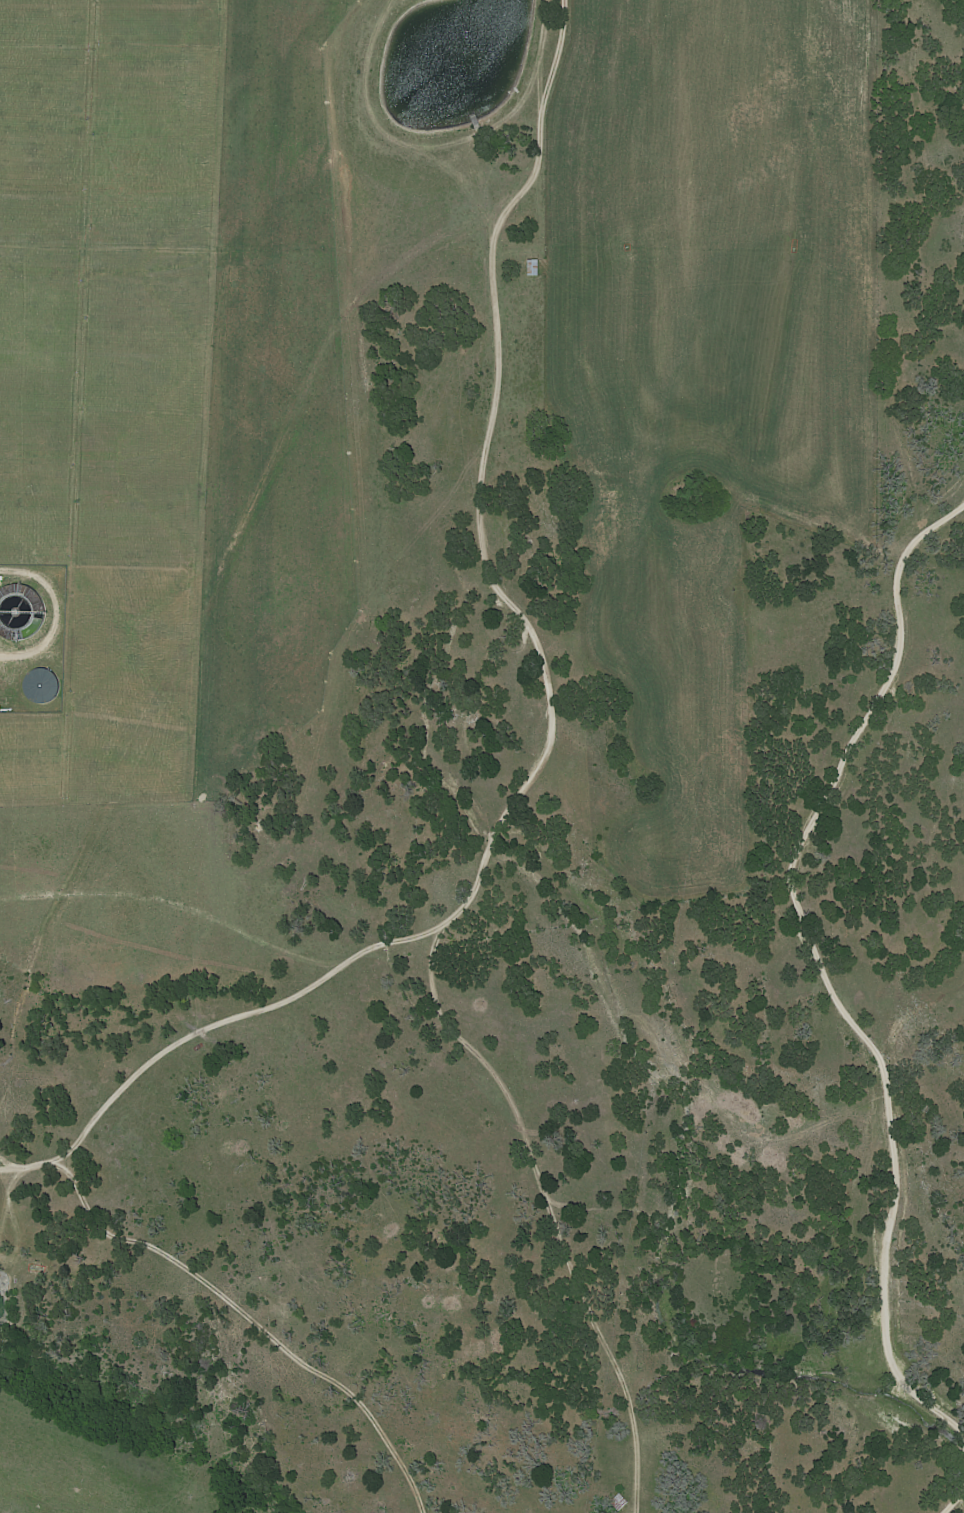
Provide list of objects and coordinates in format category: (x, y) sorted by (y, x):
building: (534, 268)
building: (15, 623)
building: (38, 684)
road: (821, 964)
road: (954, 1500)
building: (619, 1503)

